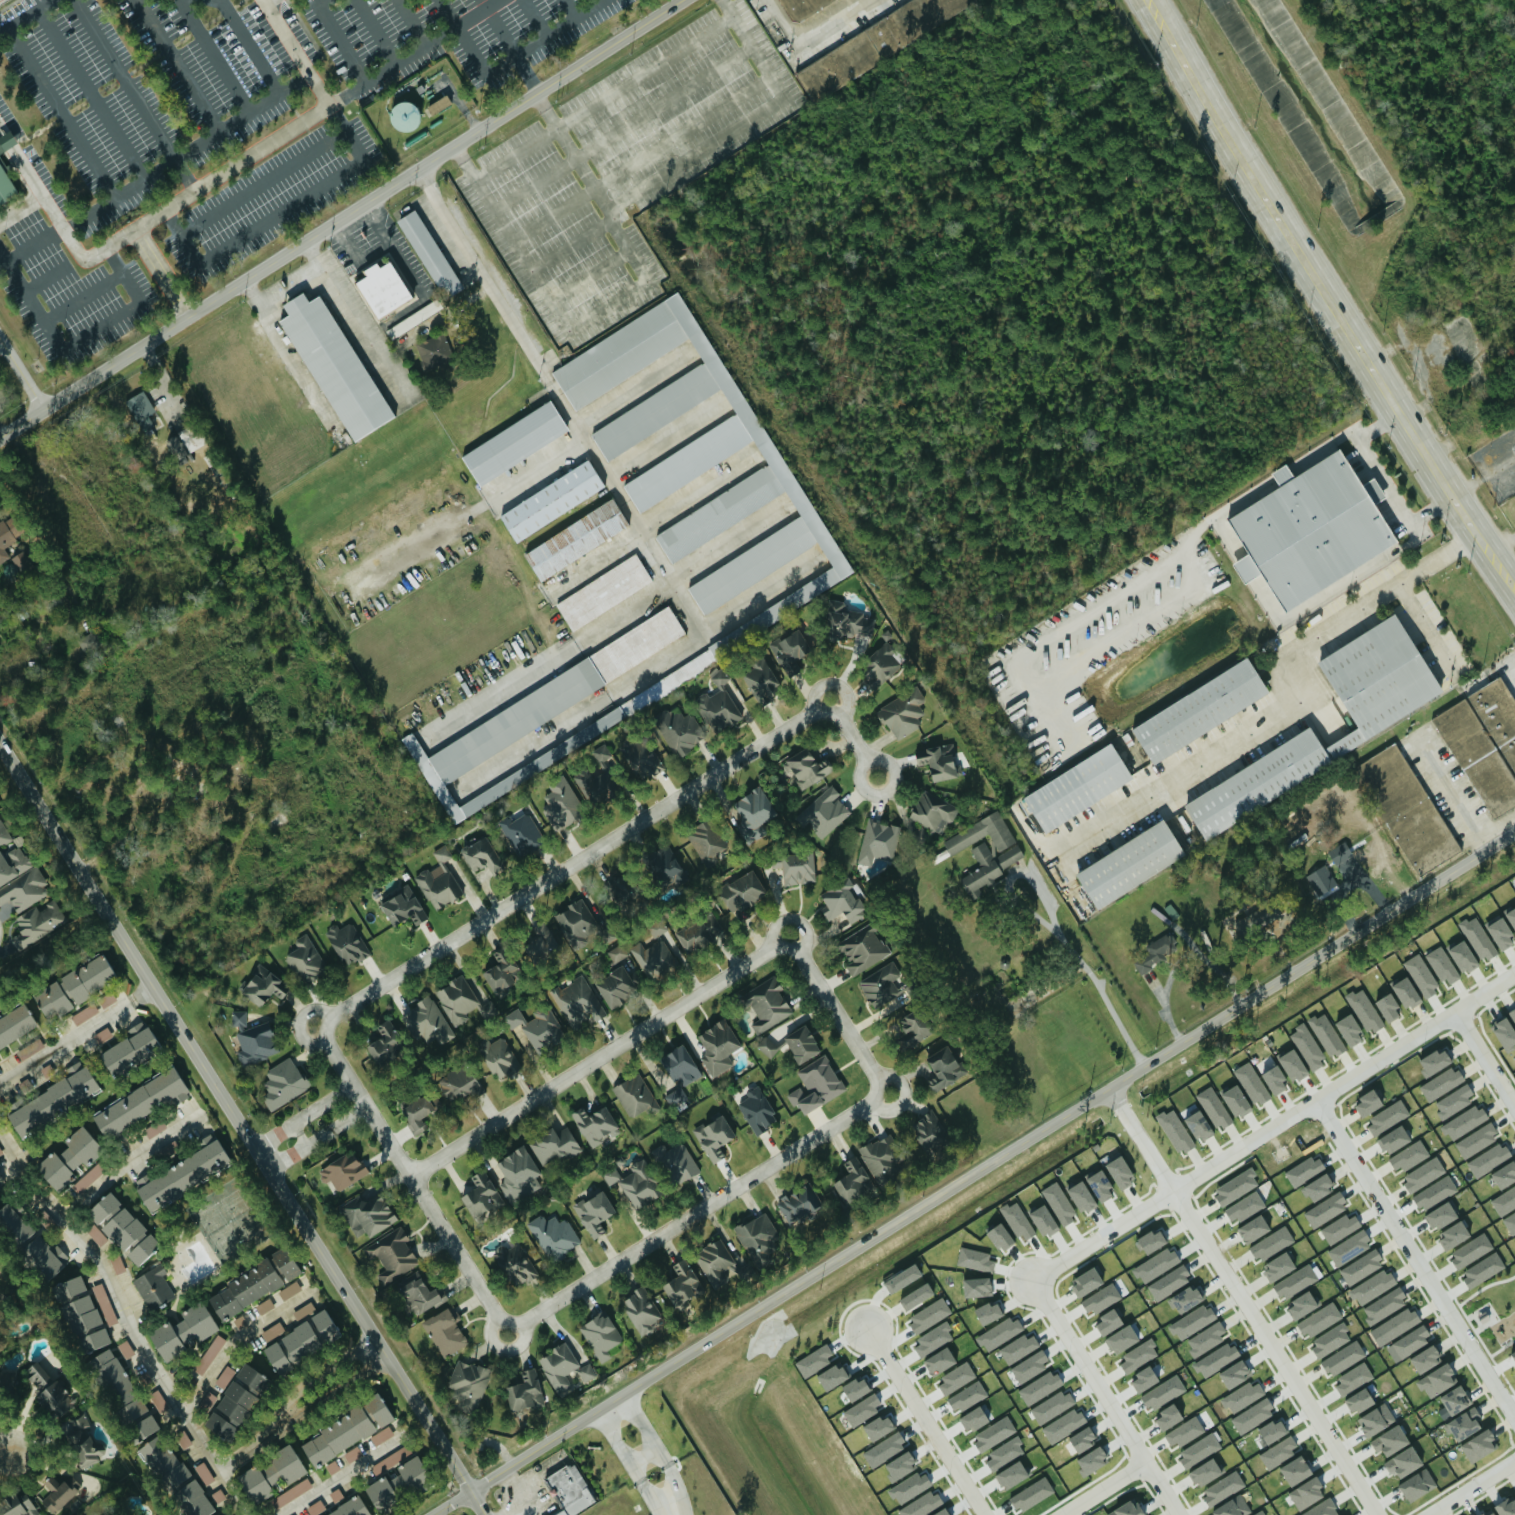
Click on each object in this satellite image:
road: (267, 1)
road: (319, 2)
road: (485, 3)
building: (802, 7)
road: (566, 9)
road: (25, 16)
road: (532, 17)
road: (412, 22)
parking lot: (824, 27)
road: (374, 32)
parking lot: (445, 35)
road: (459, 36)
road: (540, 36)
road: (812, 38)
road: (246, 43)
road: (340, 44)
building: (875, 44)
road: (512, 48)
road: (751, 49)
road: (295, 53)
road: (213, 56)
road: (175, 66)
road: (129, 71)
parking lot: (140, 91)
road: (89, 95)
road: (134, 95)
road: (604, 97)
road: (454, 101)
building: (438, 104)
road: (452, 108)
road: (59, 114)
building: (403, 116)
road: (622, 127)
road: (346, 133)
building: (6, 140)
road: (185, 152)
road: (694, 154)
road: (641, 158)
parking lot: (623, 165)
road: (225, 171)
road: (262, 183)
building: (6, 185)
parking lot: (272, 196)
road: (20, 208)
road: (371, 210)
road: (281, 213)
road: (340, 218)
road: (340, 229)
road: (181, 238)
road: (571, 243)
road: (32, 246)
building: (429, 253)
road: (363, 254)
road: (398, 255)
road: (1310, 268)
road: (589, 273)
road: (122, 274)
road: (158, 274)
road: (43, 279)
road: (291, 287)
building: (383, 287)
parking lot: (69, 292)
road: (81, 297)
road: (608, 304)
road: (30, 305)
building: (414, 318)
road: (100, 328)
road: (364, 333)
road: (0, 344)
building: (434, 350)
road: (295, 366)
building: (334, 366)
road: (20, 375)
road: (163, 379)
road: (633, 388)
road: (559, 401)
building: (141, 410)
road: (0, 435)
road: (665, 440)
building: (515, 441)
building: (177, 447)
road: (53, 462)
road: (132, 466)
road: (1482, 474)
road: (1387, 479)
road: (695, 490)
building: (552, 500)
road: (465, 515)
building: (1309, 529)
building: (577, 538)
building: (5, 543)
building: (772, 552)
road: (592, 562)
road: (1496, 565)
building: (603, 592)
building: (846, 619)
road: (1423, 621)
road: (603, 623)
building: (90, 640)
building: (788, 649)
building: (880, 664)
road: (1512, 668)
road: (637, 675)
building: (761, 679)
building: (718, 702)
road: (1285, 704)
building: (1198, 709)
building: (1382, 713)
building: (902, 714)
building: (680, 731)
road: (855, 739)
building: (1485, 741)
building: (643, 758)
building: (939, 761)
building: (807, 767)
building: (596, 777)
building: (1076, 786)
road: (1455, 794)
building: (561, 802)
building: (1407, 808)
building: (932, 809)
building: (824, 811)
building: (753, 813)
building: (520, 831)
building: (4, 833)
building: (706, 838)
building: (878, 840)
building: (986, 850)
building: (1340, 852)
building: (482, 855)
road: (578, 861)
building: (1129, 862)
building: (13, 863)
building: (795, 866)
building: (666, 868)
building: (439, 880)
building: (1320, 880)
building: (620, 888)
building: (25, 889)
building: (742, 890)
building: (841, 901)
building: (402, 906)
building: (1511, 916)
building: (1257, 917)
building: (38, 922)
building: (576, 922)
road: (1063, 922)
building: (700, 931)
building: (1500, 932)
building: (1271, 937)
building: (1478, 937)
building: (542, 941)
building: (347, 942)
building: (863, 948)
building: (1157, 950)
building: (617, 952)
building: (654, 953)
building: (1462, 956)
building: (307, 959)
building: (1443, 964)
building: (500, 973)
building: (1421, 974)
building: (616, 984)
building: (882, 984)
building: (263, 985)
building: (73, 986)
building: (1405, 992)
building: (107, 999)
building: (457, 999)
building: (578, 1000)
building: (767, 1003)
building: (488, 1007)
building: (1387, 1007)
building: (1364, 1009)
building: (89, 1011)
building: (1513, 1012)
road: (840, 1013)
building: (239, 1018)
road: (301, 1021)
building: (427, 1021)
building: (16, 1023)
building: (537, 1024)
building: (914, 1026)
building: (1349, 1029)
building: (1504, 1031)
building: (105, 1033)
building: (1326, 1033)
road: (75, 1034)
building: (801, 1042)
building: (256, 1043)
building: (384, 1044)
building: (766, 1045)
building: (1307, 1045)
building: (717, 1046)
building: (129, 1047)
road: (602, 1054)
building: (500, 1057)
road: (1485, 1058)
building: (1434, 1060)
building: (1292, 1064)
building: (943, 1067)
building: (679, 1071)
building: (1274, 1079)
building: (283, 1082)
building: (460, 1082)
building: (1252, 1082)
building: (816, 1083)
building: (1441, 1083)
building: (635, 1094)
building: (53, 1099)
building: (1455, 1099)
building: (1235, 1100)
building: (140, 1101)
building: (1367, 1102)
building: (1214, 1107)
building: (420, 1110)
building: (756, 1110)
building: (1387, 1117)
building: (1464, 1121)
building: (594, 1123)
road: (1277, 1124)
building: (1198, 1125)
road: (314, 1126)
building: (156, 1128)
road: (244, 1130)
building: (1175, 1130)
building: (929, 1131)
building: (713, 1136)
building: (1394, 1138)
building: (1476, 1140)
building: (554, 1144)
road: (1138, 1144)
building: (1408, 1155)
building: (68, 1157)
building: (881, 1157)
building: (1489, 1158)
road: (127, 1159)
building: (676, 1162)
building: (1303, 1169)
building: (343, 1170)
building: (517, 1172)
building: (1119, 1172)
building: (183, 1173)
building: (1423, 1173)
building: (1504, 1174)
building: (89, 1177)
road: (973, 1177)
building: (851, 1178)
building: (635, 1183)
building: (1099, 1185)
building: (1235, 1186)
building: (1318, 1186)
building: (1434, 1192)
building: (480, 1194)
building: (1080, 1195)
building: (1504, 1200)
building: (799, 1202)
building: (1059, 1202)
building: (1244, 1206)
building: (1325, 1209)
building: (594, 1212)
building: (367, 1214)
building: (1440, 1214)
building: (1018, 1220)
building: (1043, 1220)
building: (1510, 1221)
building: (122, 1227)
building: (1341, 1227)
building: (1253, 1228)
building: (755, 1231)
building: (95, 1232)
building: (1453, 1234)
building: (554, 1235)
building: (999, 1235)
building: (1514, 1237)
building: (1151, 1240)
building: (31, 1242)
building: (1271, 1243)
building: (1349, 1247)
building: (1470, 1250)
building: (393, 1253)
building: (975, 1259)
road: (1413, 1260)
building: (715, 1261)
building: (118, 1263)
building: (515, 1263)
building: (1156, 1264)
building: (1278, 1265)
building: (1361, 1266)
building: (1482, 1270)
building: (902, 1278)
building: (1086, 1280)
building: (1295, 1281)
building: (254, 1282)
building: (1169, 1282)
building: (682, 1283)
building: (153, 1285)
building: (1373, 1286)
building: (977, 1287)
building: (290, 1290)
building: (422, 1295)
building: (916, 1296)
building: (1101, 1298)
building: (1185, 1298)
building: (105, 1303)
building: (265, 1305)
building: (1301, 1305)
building: (1384, 1305)
road: (548, 1307)
building: (641, 1309)
building: (304, 1310)
building: (988, 1312)
building: (82, 1314)
building: (929, 1314)
building: (1319, 1319)
building: (1192, 1320)
road: (127, 1321)
building: (240, 1321)
building: (1108, 1321)
building: (1394, 1325)
building: (182, 1330)
building: (273, 1330)
building: (445, 1330)
building: (999, 1332)
building: (601, 1335)
road: (237, 1337)
building: (1121, 1338)
building: (1206, 1338)
building: (932, 1339)
building: (1330, 1339)
building: (299, 1340)
building: (1409, 1342)
building: (1019, 1347)
building: (126, 1348)
building: (209, 1354)
road: (1273, 1354)
building: (1138, 1355)
building: (1343, 1357)
building: (1216, 1358)
building: (1425, 1358)
building: (939, 1360)
building: (1030, 1365)
building: (563, 1366)
building: (110, 1372)
building: (1234, 1373)
building: (225, 1376)
building: (958, 1376)
building: (469, 1378)
building: (1353, 1378)
building: (1437, 1380)
building: (47, 1389)
building: (525, 1391)
building: (1163, 1392)
building: (1244, 1395)
road: (1105, 1399)
building: (159, 1400)
building: (1358, 1400)
building: (235, 1401)
building: (1453, 1401)
road: (294, 1404)
building: (1051, 1406)
building: (1253, 1415)
building: (1167, 1416)
building: (137, 1417)
building: (1375, 1419)
building: (1463, 1423)
building: (1063, 1424)
road: (18, 1425)
road: (927, 1428)
building: (345, 1430)
road: (645, 1430)
building: (1272, 1430)
building: (1184, 1431)
building: (382, 1434)
building: (1081, 1438)
building: (82, 1439)
building: (184, 1440)
building: (1390, 1440)
road: (620, 1445)
building: (1478, 1445)
building: (1199, 1449)
building: (1279, 1451)
building: (353, 1453)
road: (4, 1457)
building: (162, 1462)
building: (1402, 1462)
building: (332, 1466)
road: (668, 1469)
building: (1295, 1470)
building: (1204, 1471)
building: (205, 1472)
road: (343, 1473)
building: (271, 1474)
building: (396, 1478)
road: (644, 1482)
building: (1417, 1484)
road: (512, 1487)
building: (1223, 1487)
road: (1471, 1487)
building: (570, 1489)
road: (1103, 1489)
building: (57, 1492)
building: (1306, 1492)
building: (290, 1493)
road: (676, 1493)
building: (219, 1494)
building: (336, 1494)
building: (193, 1499)
road: (654, 1500)
building: (1232, 1506)
building: (1506, 1506)
building: (316, 1507)
building: (351, 1509)
road: (512, 1509)
building: (1126, 1509)
building: (1321, 1509)
building: (1260, 1513)
building: (1492, 1513)
building: (1480, 1514)

